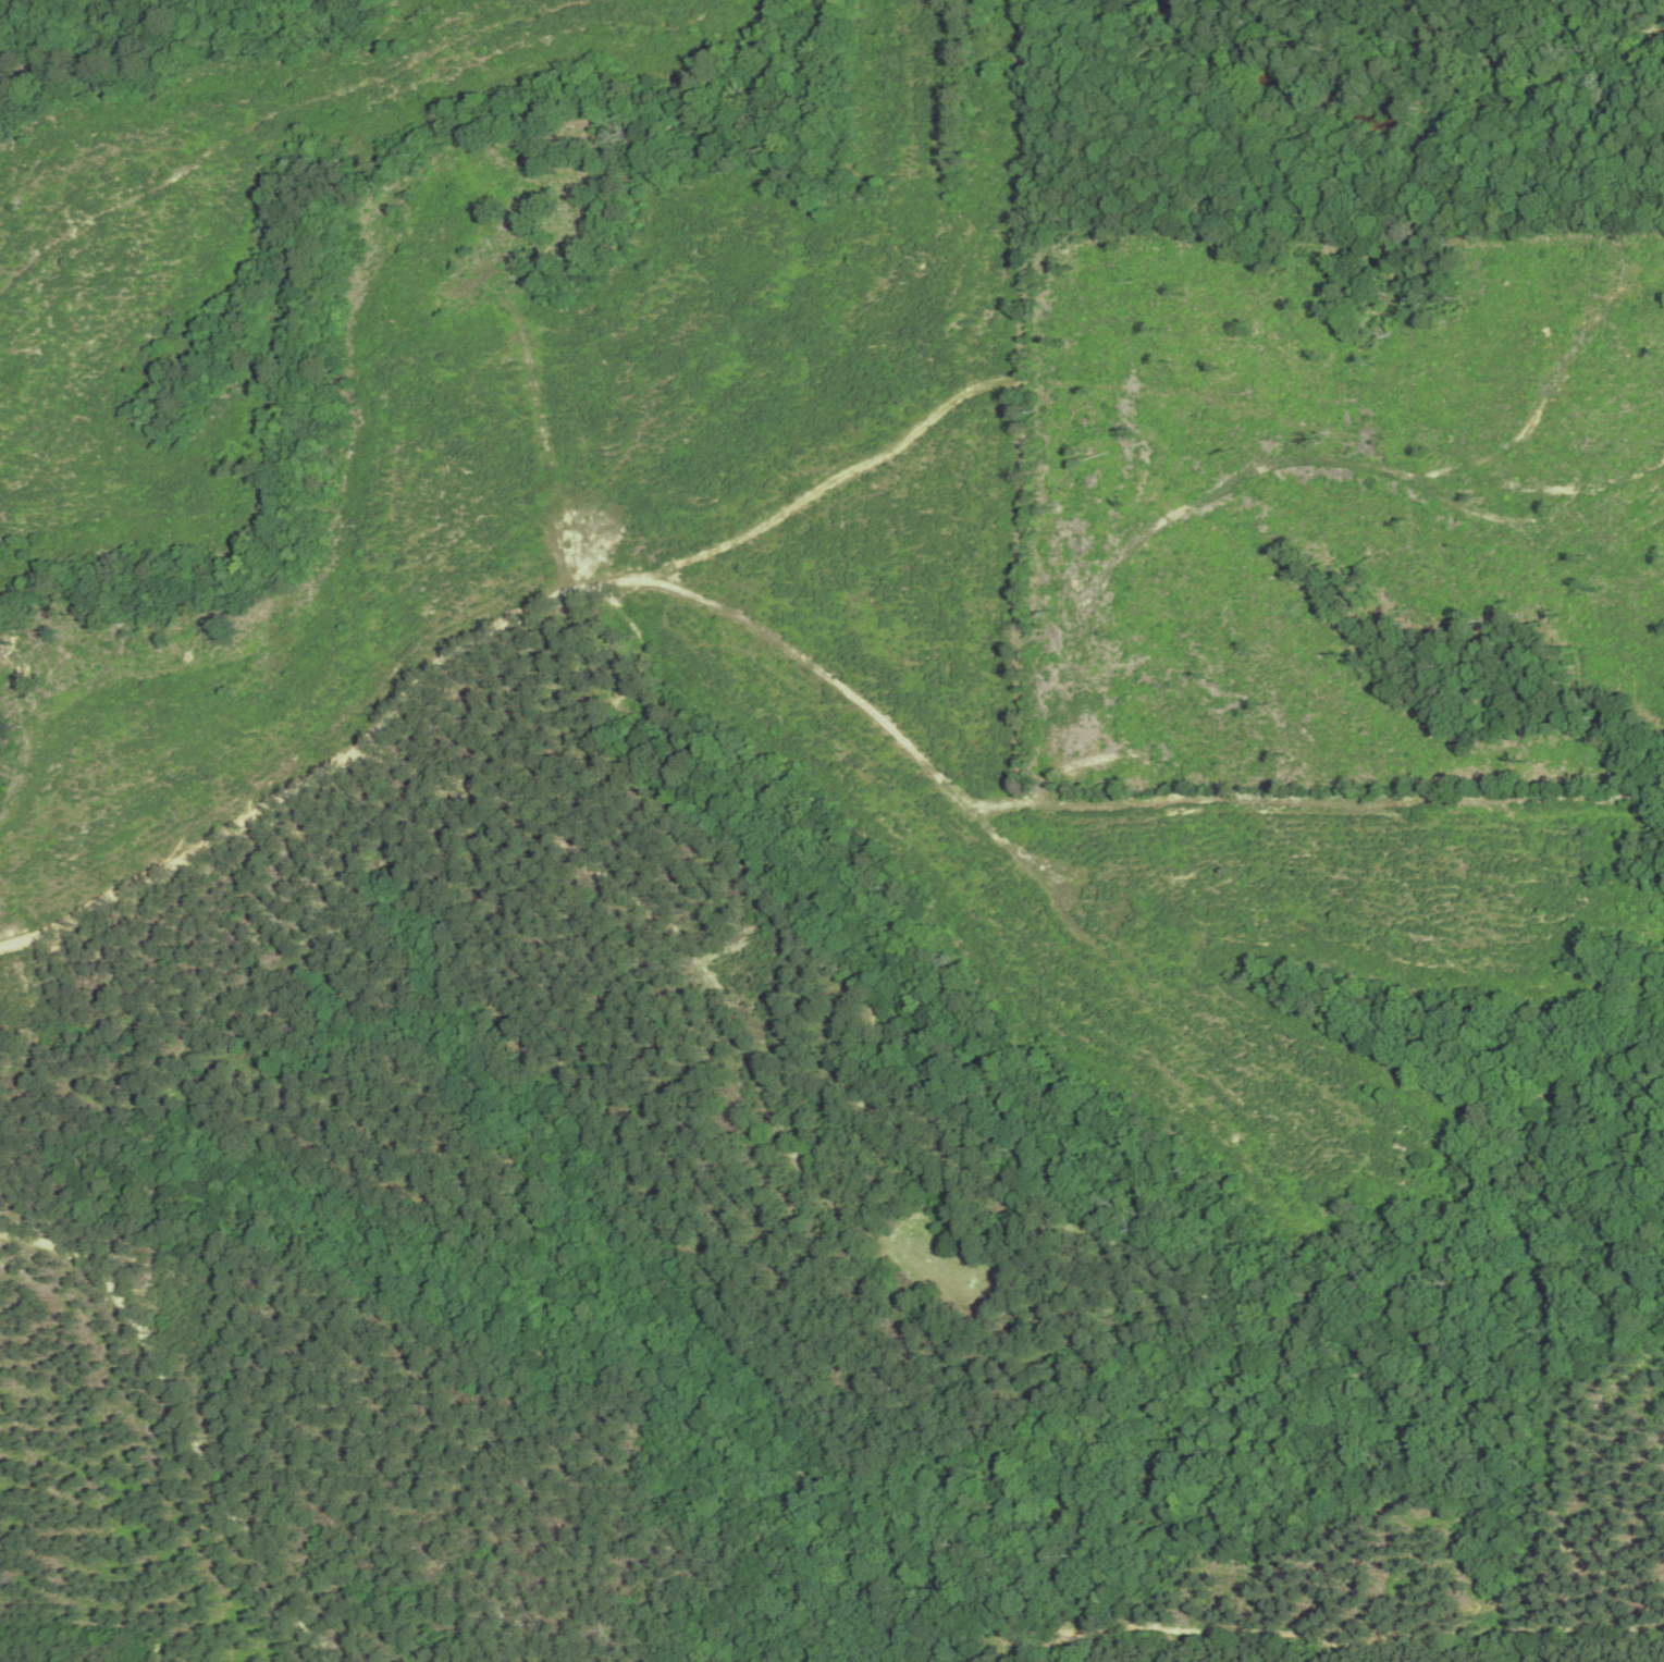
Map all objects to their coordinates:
road: (851, 458)
road: (181, 1427)

